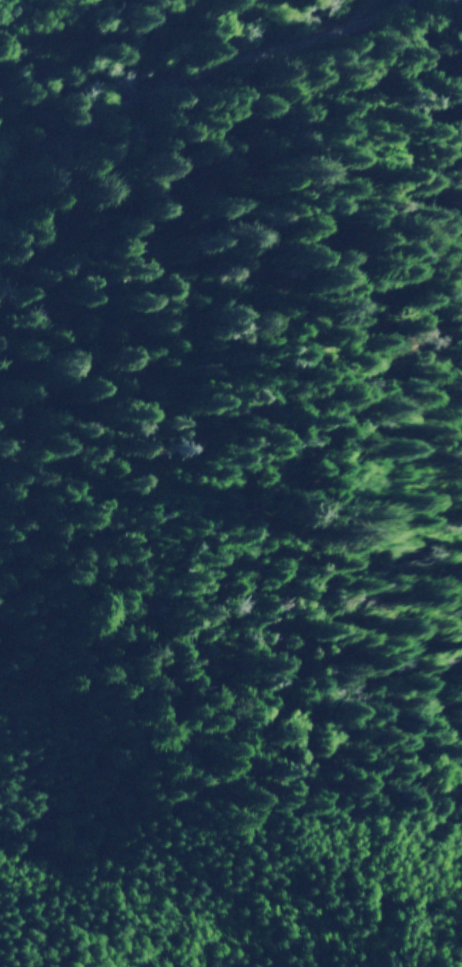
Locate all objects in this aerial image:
crop: (11, 11)
road: (419, 15)
road: (212, 87)

